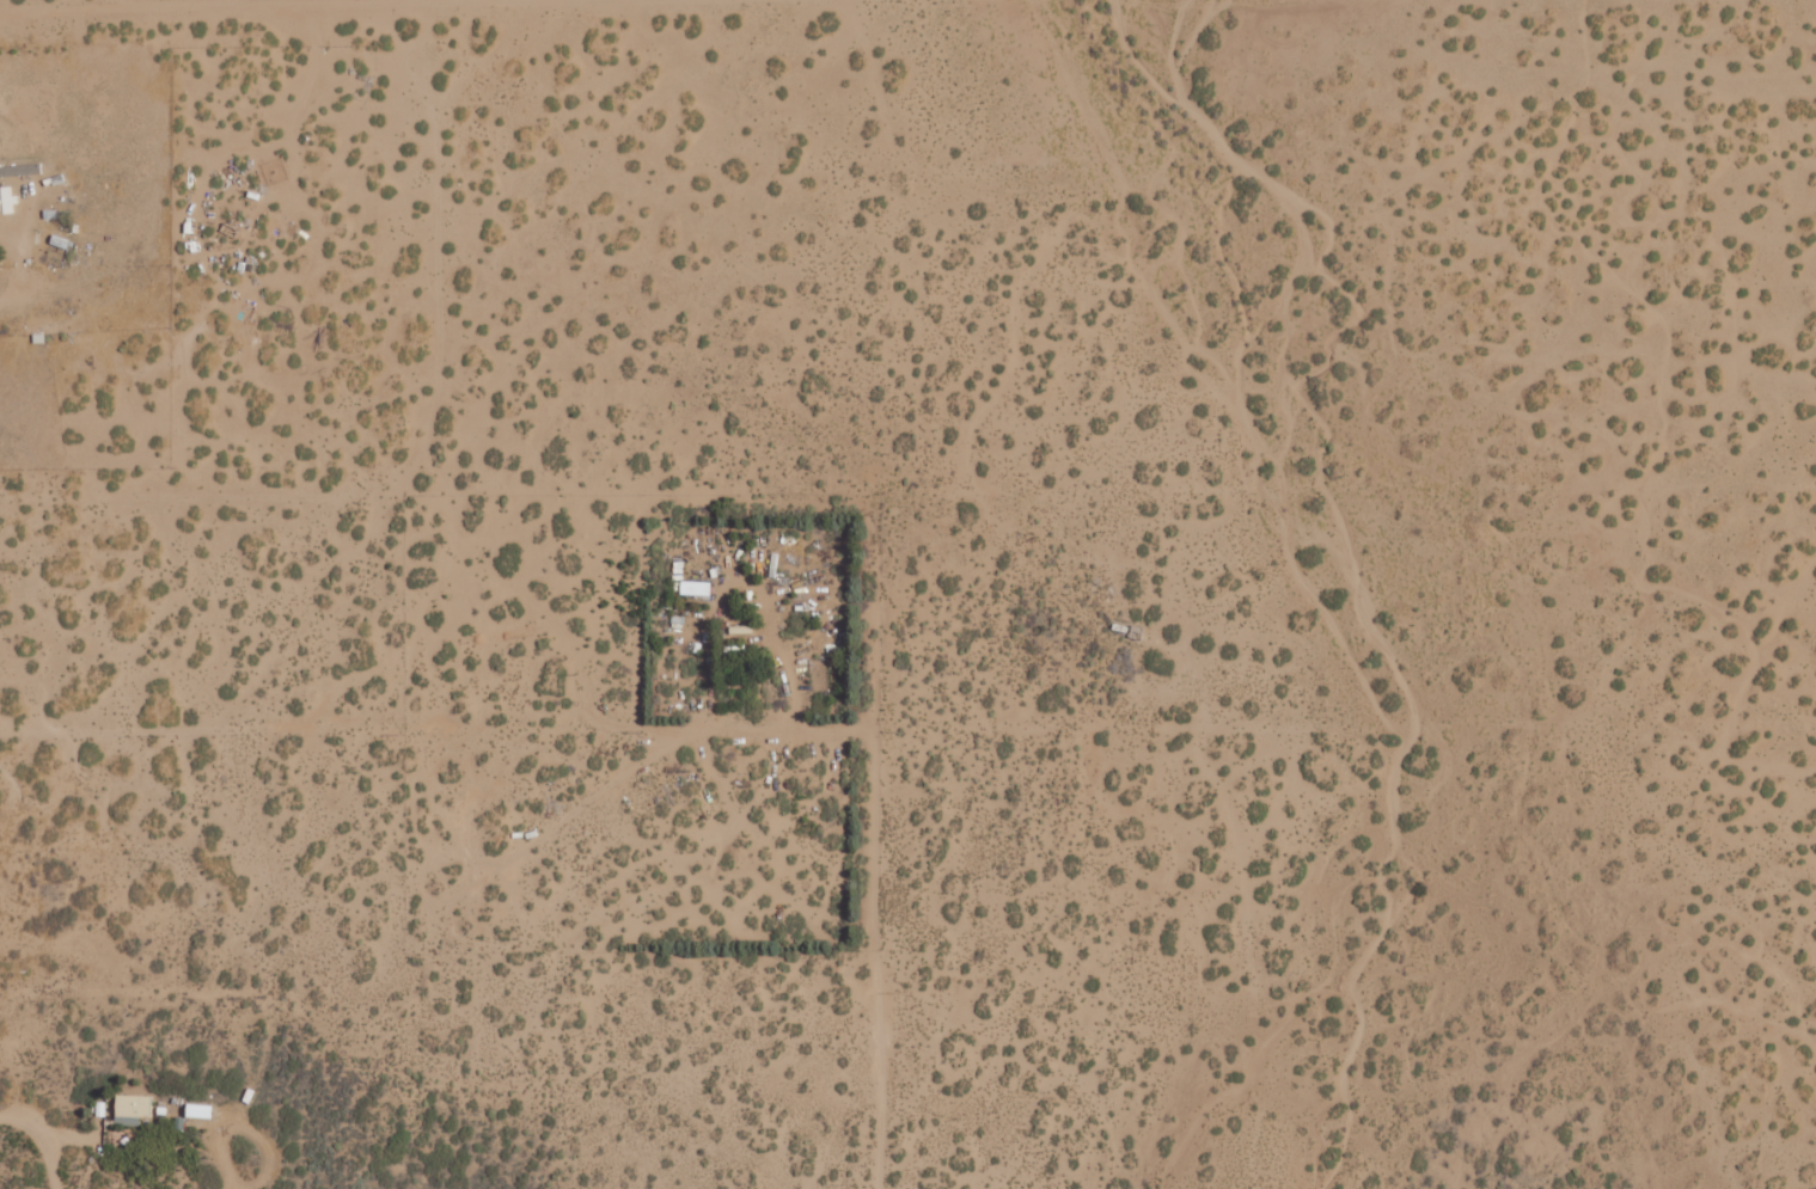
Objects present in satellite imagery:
road: (181, 7)
road: (408, 471)
building: (695, 588)
road: (439, 728)
road: (876, 842)
road: (247, 1093)
road: (42, 1140)

